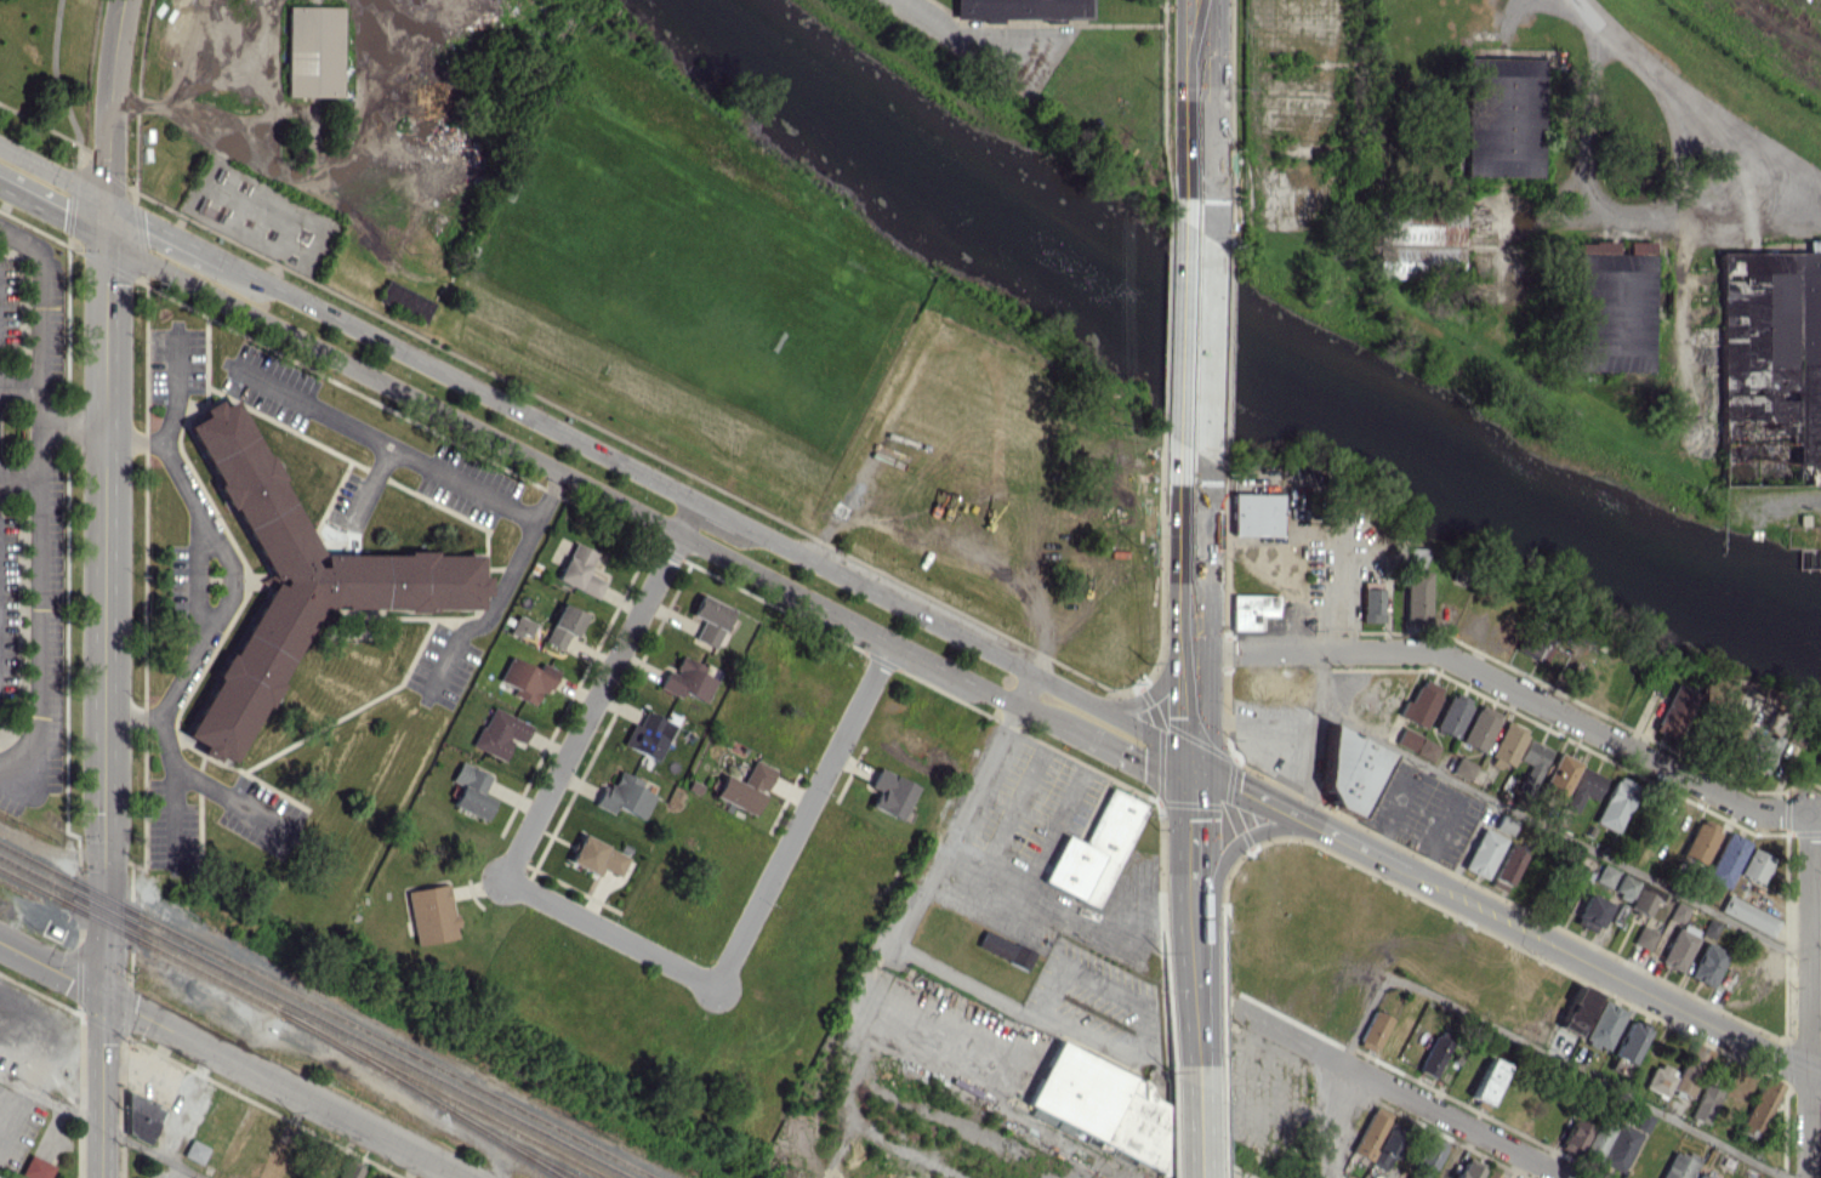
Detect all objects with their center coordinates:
building: (1025, 6)
road: (968, 33)
building: (313, 50)
park: (50, 70)
road: (1697, 95)
road: (1201, 99)
building: (1504, 109)
road: (109, 120)
road: (53, 172)
traffic signals: (107, 200)
road: (53, 214)
road: (166, 229)
building: (1417, 234)
traffic signals: (107, 241)
park: (667, 292)
building: (1615, 298)
building: (404, 301)
road: (41, 317)
road: (1197, 342)
river: (1247, 351)
building: (1771, 357)
road: (21, 386)
road: (170, 414)
road: (74, 426)
road: (383, 442)
road: (21, 474)
road: (584, 484)
road: (711, 510)
building: (1252, 513)
road: (1194, 557)
building: (1415, 557)
building: (577, 570)
building: (290, 577)
road: (501, 581)
building: (1415, 597)
road: (42, 602)
road: (198, 602)
building: (1368, 604)
building: (1248, 609)
building: (709, 620)
building: (562, 625)
building: (520, 626)
building: (527, 678)
road: (1160, 683)
road: (598, 689)
road: (1516, 692)
road: (1193, 698)
building: (1418, 701)
road: (104, 708)
building: (1675, 711)
building: (1450, 713)
building: (1478, 727)
building: (499, 733)
building: (648, 735)
road: (1314, 736)
building: (1405, 739)
building: (1506, 742)
building: (1424, 749)
building: (1758, 752)
road: (1125, 755)
building: (1530, 762)
traffic signals: (1193, 766)
building: (1461, 767)
building: (1817, 767)
building: (1345, 768)
road: (194, 775)
building: (1557, 778)
building: (744, 787)
building: (1582, 787)
building: (471, 790)
building: (889, 793)
building: (624, 795)
building: (1614, 803)
road: (176, 807)
road: (1012, 812)
road: (803, 813)
road: (1298, 818)
building: (1503, 824)
road: (1053, 832)
road: (1561, 835)
road: (1191, 836)
building: (1697, 842)
building: (1093, 849)
road: (1231, 849)
building: (1481, 852)
building: (596, 857)
building: (1724, 859)
building: (1754, 865)
building: (1503, 869)
building: (1604, 875)
building: (1623, 886)
building: (1641, 899)
road: (1038, 901)
road: (1117, 904)
building: (1587, 910)
building: (431, 914)
building: (1747, 915)
road: (609, 932)
road: (1814, 935)
building: (1643, 937)
building: (1678, 946)
building: (1005, 949)
road: (904, 952)
building: (1706, 964)
road: (51, 966)
road: (1611, 974)
traffic signals: (103, 992)
road: (1806, 994)
road: (1191, 996)
building: (1576, 1009)
railway: (325, 1011)
road: (906, 1015)
railway: (312, 1018)
railway: (301, 1024)
building: (1603, 1025)
building: (1372, 1030)
road: (1110, 1038)
building: (1628, 1041)
building: (1432, 1055)
building: (1690, 1069)
road: (1338, 1071)
road: (1586, 1077)
building: (1657, 1079)
building: (1486, 1080)
road: (283, 1085)
building: (1089, 1093)
road: (1407, 1096)
railway: (426, 1097)
building: (1759, 1104)
building: (1702, 1105)
building: (141, 1119)
building: (1049, 1120)
building: (1641, 1122)
road: (102, 1125)
road: (1193, 1131)
building: (1574, 1134)
building: (1376, 1139)
railway: (505, 1143)
building: (1610, 1144)
building: (194, 1151)
building: (1427, 1157)
building: (1678, 1165)
building: (36, 1167)
building: (1467, 1168)
building: (348, 1171)
road: (1331, 1173)
building: (1487, 1174)
building: (1697, 1176)

